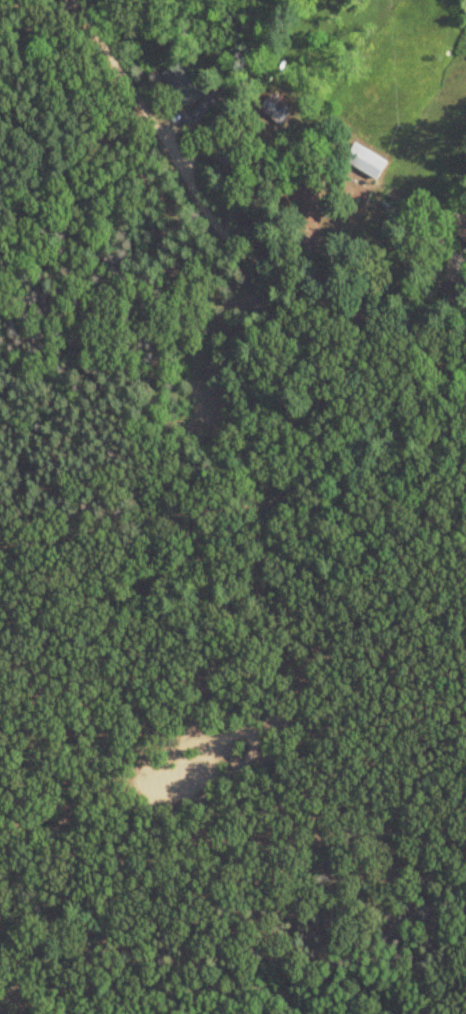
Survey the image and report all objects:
building: (184, 86)
road: (242, 86)
building: (277, 111)
building: (225, 156)
building: (367, 164)
road: (224, 234)
road: (86, 698)

